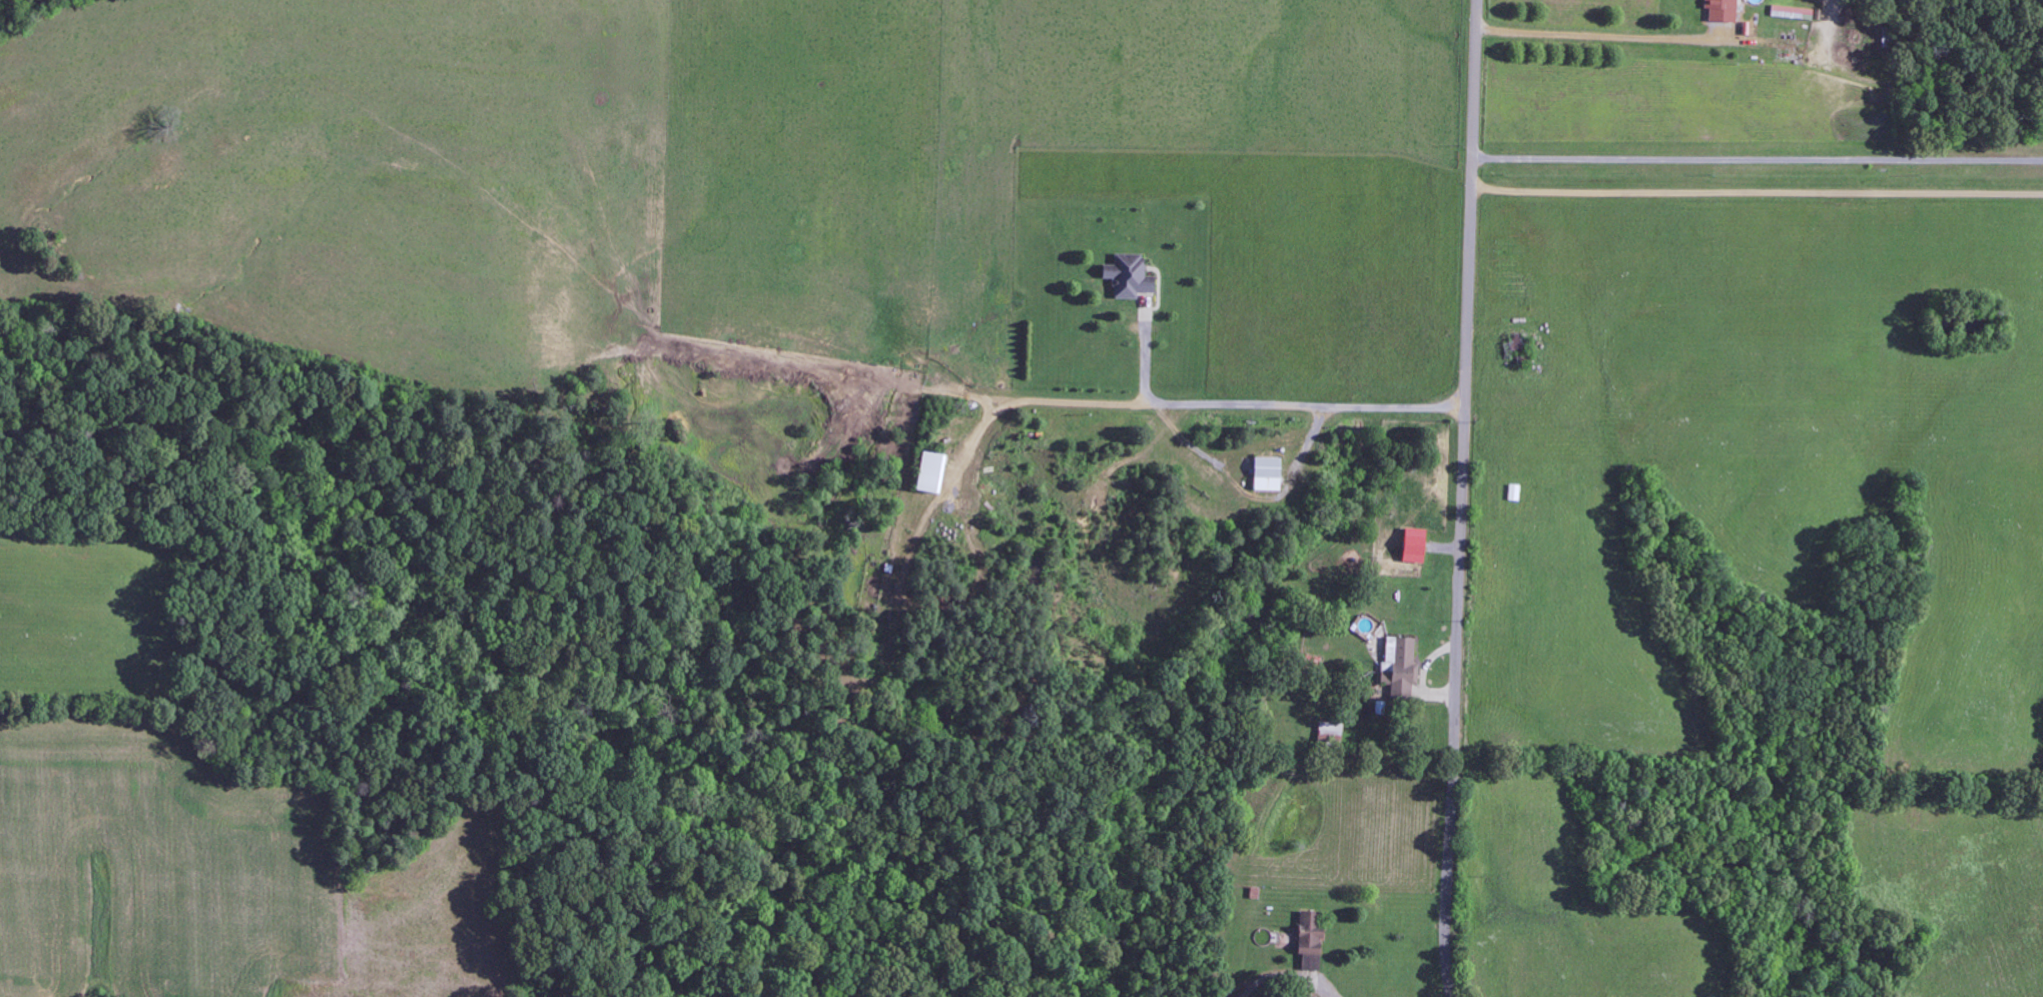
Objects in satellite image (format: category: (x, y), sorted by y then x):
building: (1720, 10)
building: (1791, 13)
building: (1133, 277)
building: (937, 473)
building: (1264, 474)
road: (1464, 498)
building: (1410, 545)
building: (1396, 664)
building: (1327, 730)
building: (1306, 939)

